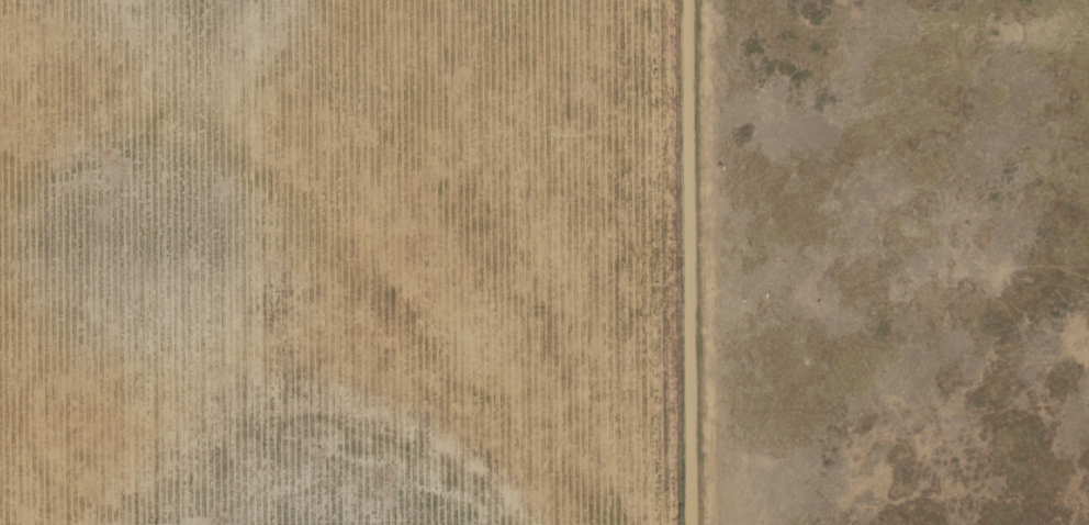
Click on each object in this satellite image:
road: (689, 262)

